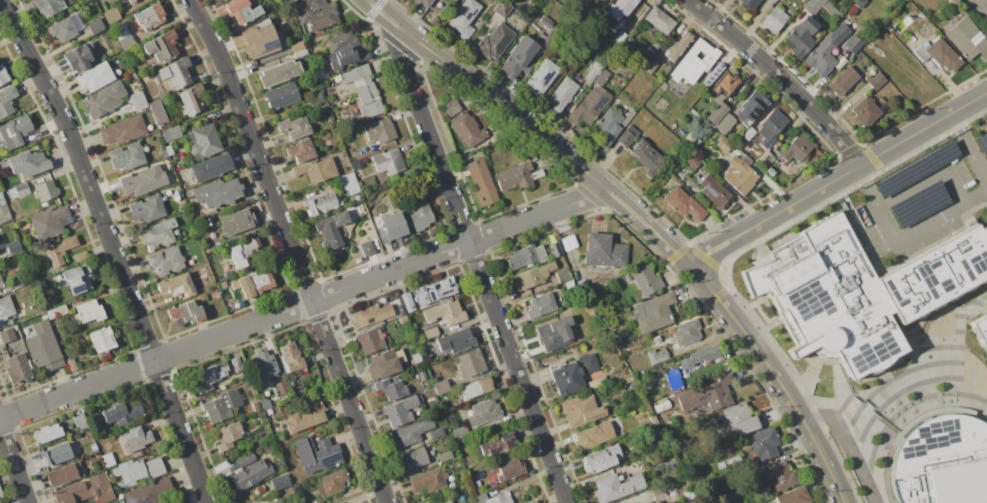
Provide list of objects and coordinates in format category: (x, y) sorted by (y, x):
building: (85, 0)
building: (454, 0)
building: (131, 1)
building: (421, 3)
building: (859, 3)
building: (748, 4)
building: (49, 6)
building: (502, 8)
building: (621, 8)
building: (833, 10)
building: (242, 11)
building: (316, 13)
building: (112, 15)
building: (150, 16)
building: (464, 18)
building: (524, 19)
building: (660, 20)
building: (775, 20)
building: (546, 22)
building: (96, 26)
building: (886, 26)
building: (66, 28)
building: (123, 35)
building: (539, 38)
building: (801, 38)
building: (967, 39)
building: (261, 41)
building: (494, 42)
building: (627, 43)
building: (852, 43)
building: (678, 45)
building: (162, 46)
building: (299, 49)
building: (345, 49)
building: (648, 51)
building: (826, 51)
building: (939, 54)
building: (78, 57)
building: (520, 57)
building: (693, 62)
building: (651, 65)
building: (594, 69)
building: (175, 73)
building: (280, 73)
building: (357, 74)
building: (150, 75)
building: (3, 76)
building: (94, 77)
building: (542, 77)
building: (602, 77)
road: (778, 77)
building: (877, 80)
building: (843, 81)
building: (726, 84)
road: (484, 91)
building: (562, 94)
building: (282, 96)
building: (315, 99)
building: (6, 100)
building: (102, 100)
building: (191, 100)
building: (370, 100)
building: (137, 101)
building: (638, 102)
building: (451, 107)
building: (590, 107)
building: (751, 108)
building: (720, 111)
building: (158, 112)
building: (865, 112)
building: (628, 117)
building: (725, 124)
building: (294, 127)
building: (606, 127)
building: (467, 128)
building: (771, 128)
building: (123, 130)
building: (14, 132)
building: (379, 132)
building: (171, 133)
building: (749, 133)
building: (627, 136)
building: (691, 137)
building: (204, 141)
building: (723, 144)
road: (969, 145)
building: (776, 146)
building: (301, 150)
building: (797, 150)
building: (164, 153)
building: (128, 156)
building: (647, 157)
building: (766, 158)
building: (693, 161)
building: (388, 162)
building: (26, 163)
building: (358, 164)
building: (211, 167)
building: (317, 169)
building: (770, 171)
building: (517, 176)
building: (742, 176)
building: (171, 177)
road: (837, 177)
building: (695, 178)
road: (930, 178)
building: (481, 181)
building: (137, 183)
building: (349, 183)
building: (175, 188)
building: (714, 190)
building: (18, 191)
building: (46, 191)
building: (218, 193)
building: (683, 203)
building: (322, 204)
parking lot: (922, 205)
road: (634, 207)
building: (146, 210)
building: (4, 211)
building: (419, 211)
road: (626, 215)
building: (49, 222)
building: (236, 222)
building: (390, 226)
building: (331, 229)
building: (563, 229)
building: (156, 234)
road: (904, 238)
building: (569, 242)
building: (13, 247)
road: (112, 248)
building: (366, 248)
building: (60, 249)
road: (291, 249)
building: (555, 249)
building: (605, 251)
building: (243, 252)
building: (81, 256)
building: (527, 256)
building: (356, 259)
building: (165, 261)
road: (477, 268)
building: (563, 275)
building: (533, 276)
building: (78, 279)
building: (646, 280)
building: (580, 281)
building: (1, 283)
building: (42, 284)
building: (255, 284)
building: (177, 286)
building: (435, 291)
building: (861, 291)
building: (200, 297)
building: (386, 298)
building: (408, 302)
road: (301, 304)
building: (541, 305)
building: (6, 306)
building: (57, 312)
building: (89, 312)
building: (186, 312)
building: (445, 313)
building: (654, 313)
building: (371, 316)
building: (402, 320)
building: (348, 330)
building: (982, 331)
building: (431, 332)
building: (686, 332)
building: (555, 333)
building: (612, 333)
building: (7, 334)
building: (618, 339)
building: (102, 340)
building: (370, 341)
building: (456, 341)
building: (44, 347)
building: (657, 355)
building: (291, 357)
building: (697, 357)
building: (417, 358)
road: (765, 361)
building: (589, 362)
building: (385, 363)
building: (471, 363)
building: (237, 364)
building: (266, 364)
building: (71, 365)
building: (18, 368)
building: (210, 376)
building: (567, 379)
building: (629, 379)
building: (673, 379)
flagpole: (817, 380)
building: (597, 383)
building: (282, 387)
building: (441, 387)
building: (477, 388)
building: (391, 389)
building: (708, 395)
building: (662, 402)
building: (266, 403)
building: (222, 406)
building: (256, 406)
building: (647, 409)
building: (268, 411)
building: (401, 411)
building: (486, 411)
building: (577, 412)
building: (123, 413)
building: (306, 415)
building: (739, 419)
building: (81, 422)
building: (459, 432)
building: (47, 433)
building: (411, 433)
building: (436, 433)
building: (228, 435)
building: (595, 435)
building: (134, 439)
building: (763, 444)
building: (497, 446)
road: (850, 446)
building: (93, 447)
building: (55, 454)
building: (317, 454)
building: (445, 456)
building: (414, 459)
building: (108, 460)
building: (597, 460)
building: (733, 461)
building: (942, 462)
building: (647, 463)
building: (720, 465)
road: (13, 467)
building: (509, 469)
building: (137, 470)
building: (249, 471)
building: (63, 475)
building: (429, 480)
building: (280, 482)
building: (333, 483)
building: (785, 484)
building: (477, 486)
building: (616, 486)
building: (260, 489)
building: (87, 490)
building: (152, 492)
building: (1, 493)
building: (284, 493)
building: (673, 494)
building: (120, 497)
building: (494, 498)
building: (315, 500)
building: (531, 501)
building: (0, 502)
building: (448, 502)
building: (473, 502)
building: (641, 502)
building: (648, 502)
building: (656, 502)

